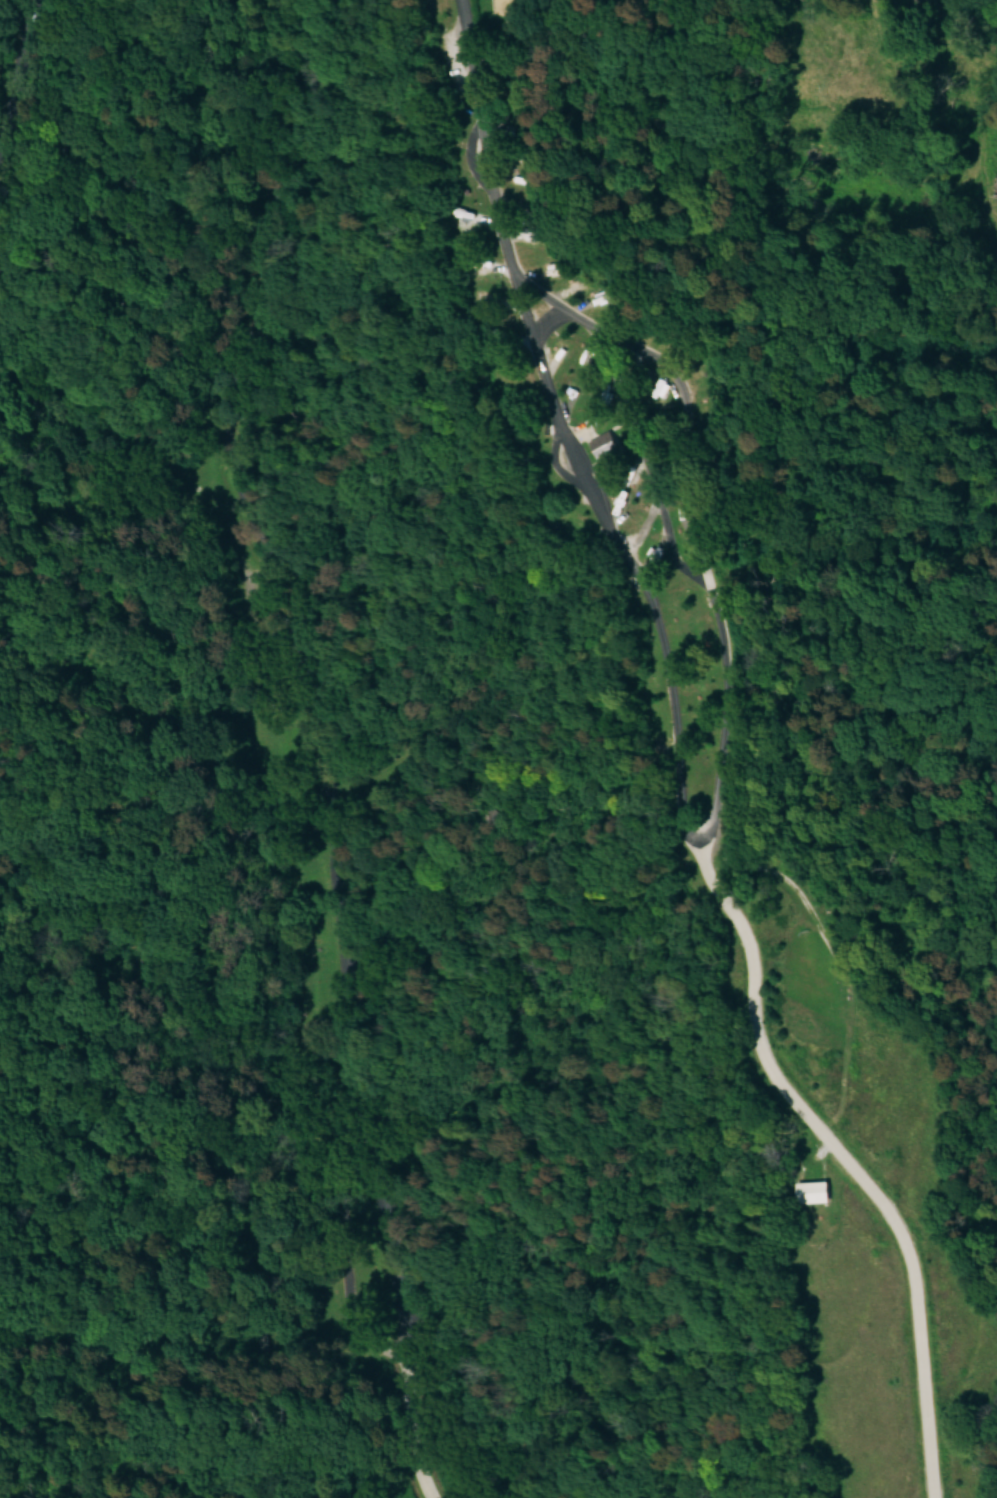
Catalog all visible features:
road: (21, 68)
road: (513, 288)
building: (607, 443)
road: (273, 577)
road: (674, 711)
road: (712, 872)
building: (815, 1191)
road: (401, 1310)
road: (411, 1417)

